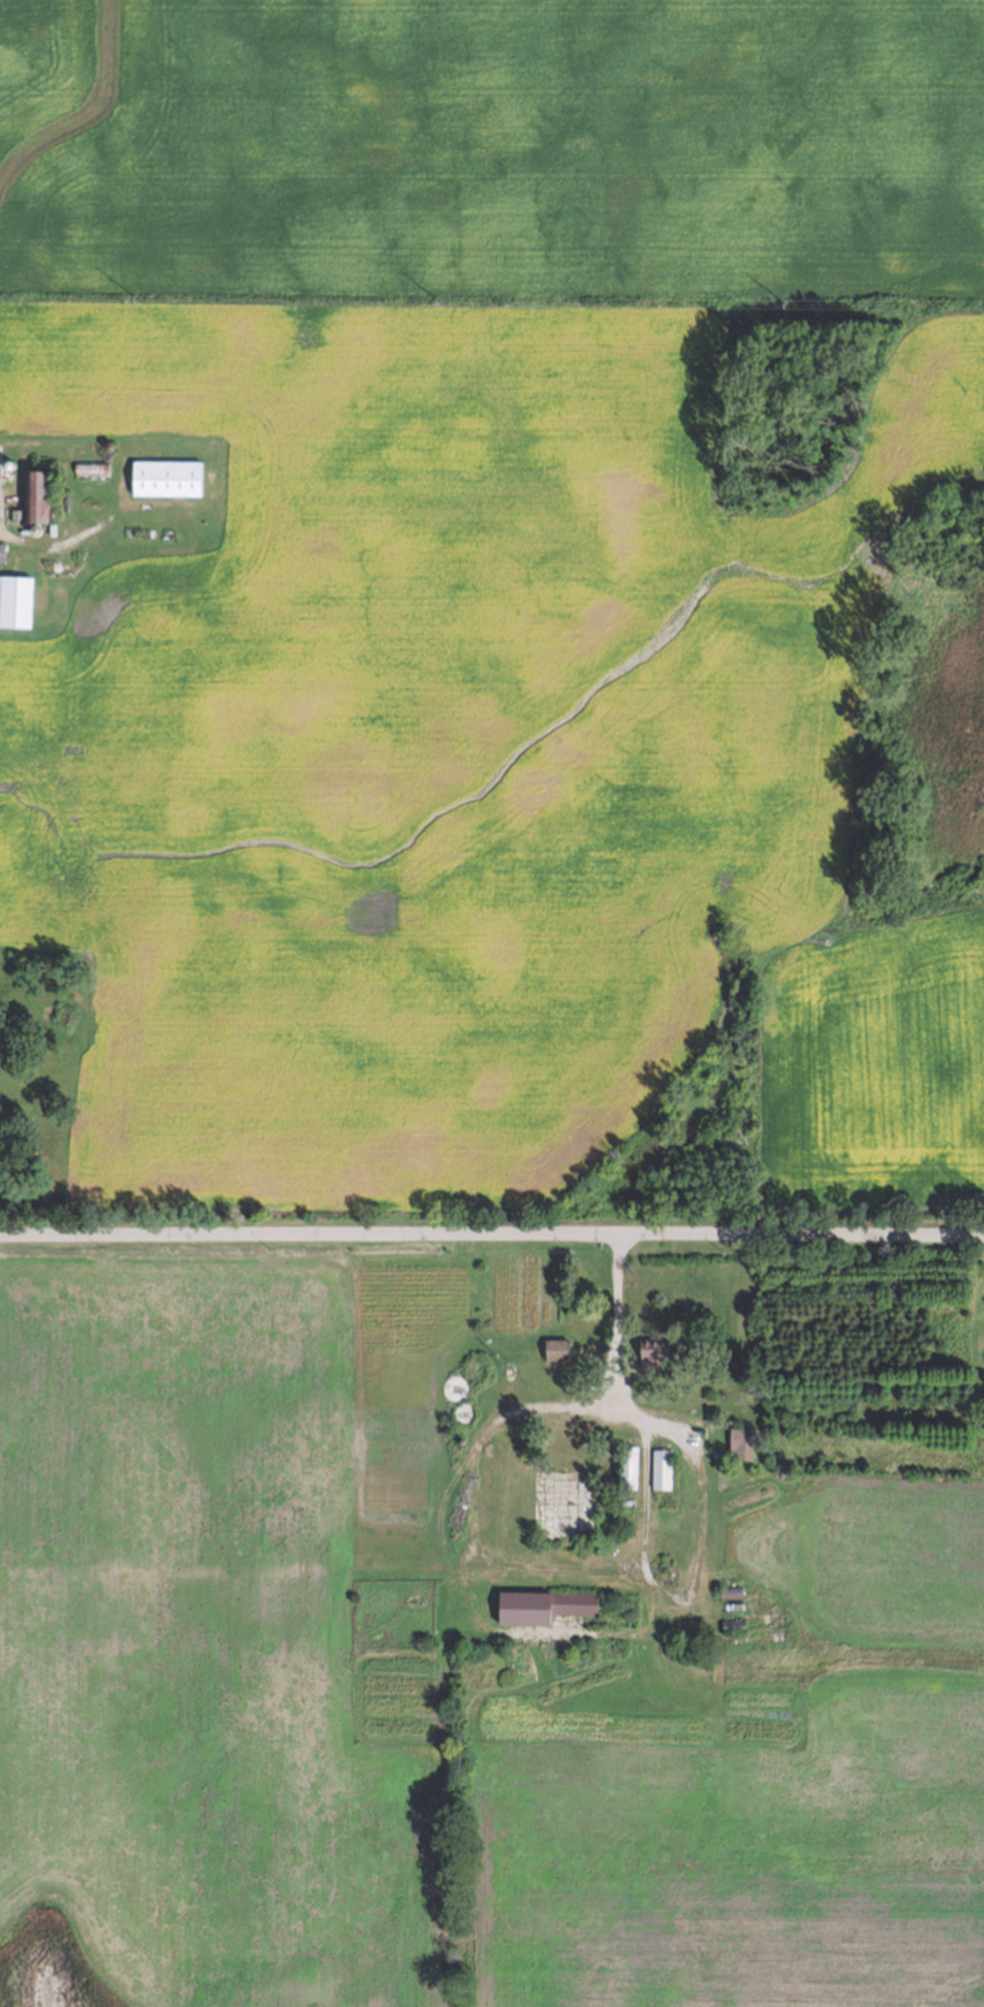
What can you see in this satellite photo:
building: (91, 445)
building: (105, 445)
building: (6, 464)
building: (87, 466)
building: (164, 476)
building: (33, 490)
building: (13, 515)
building: (49, 529)
building: (32, 530)
road: (54, 545)
building: (2, 553)
building: (13, 599)
road: (491, 1232)
building: (555, 1347)
building: (650, 1354)
building: (739, 1441)
building: (624, 1465)
building: (659, 1467)
building: (597, 1488)
road: (643, 1496)
road: (480, 1556)
building: (727, 1591)
building: (548, 1602)
building: (731, 1624)

